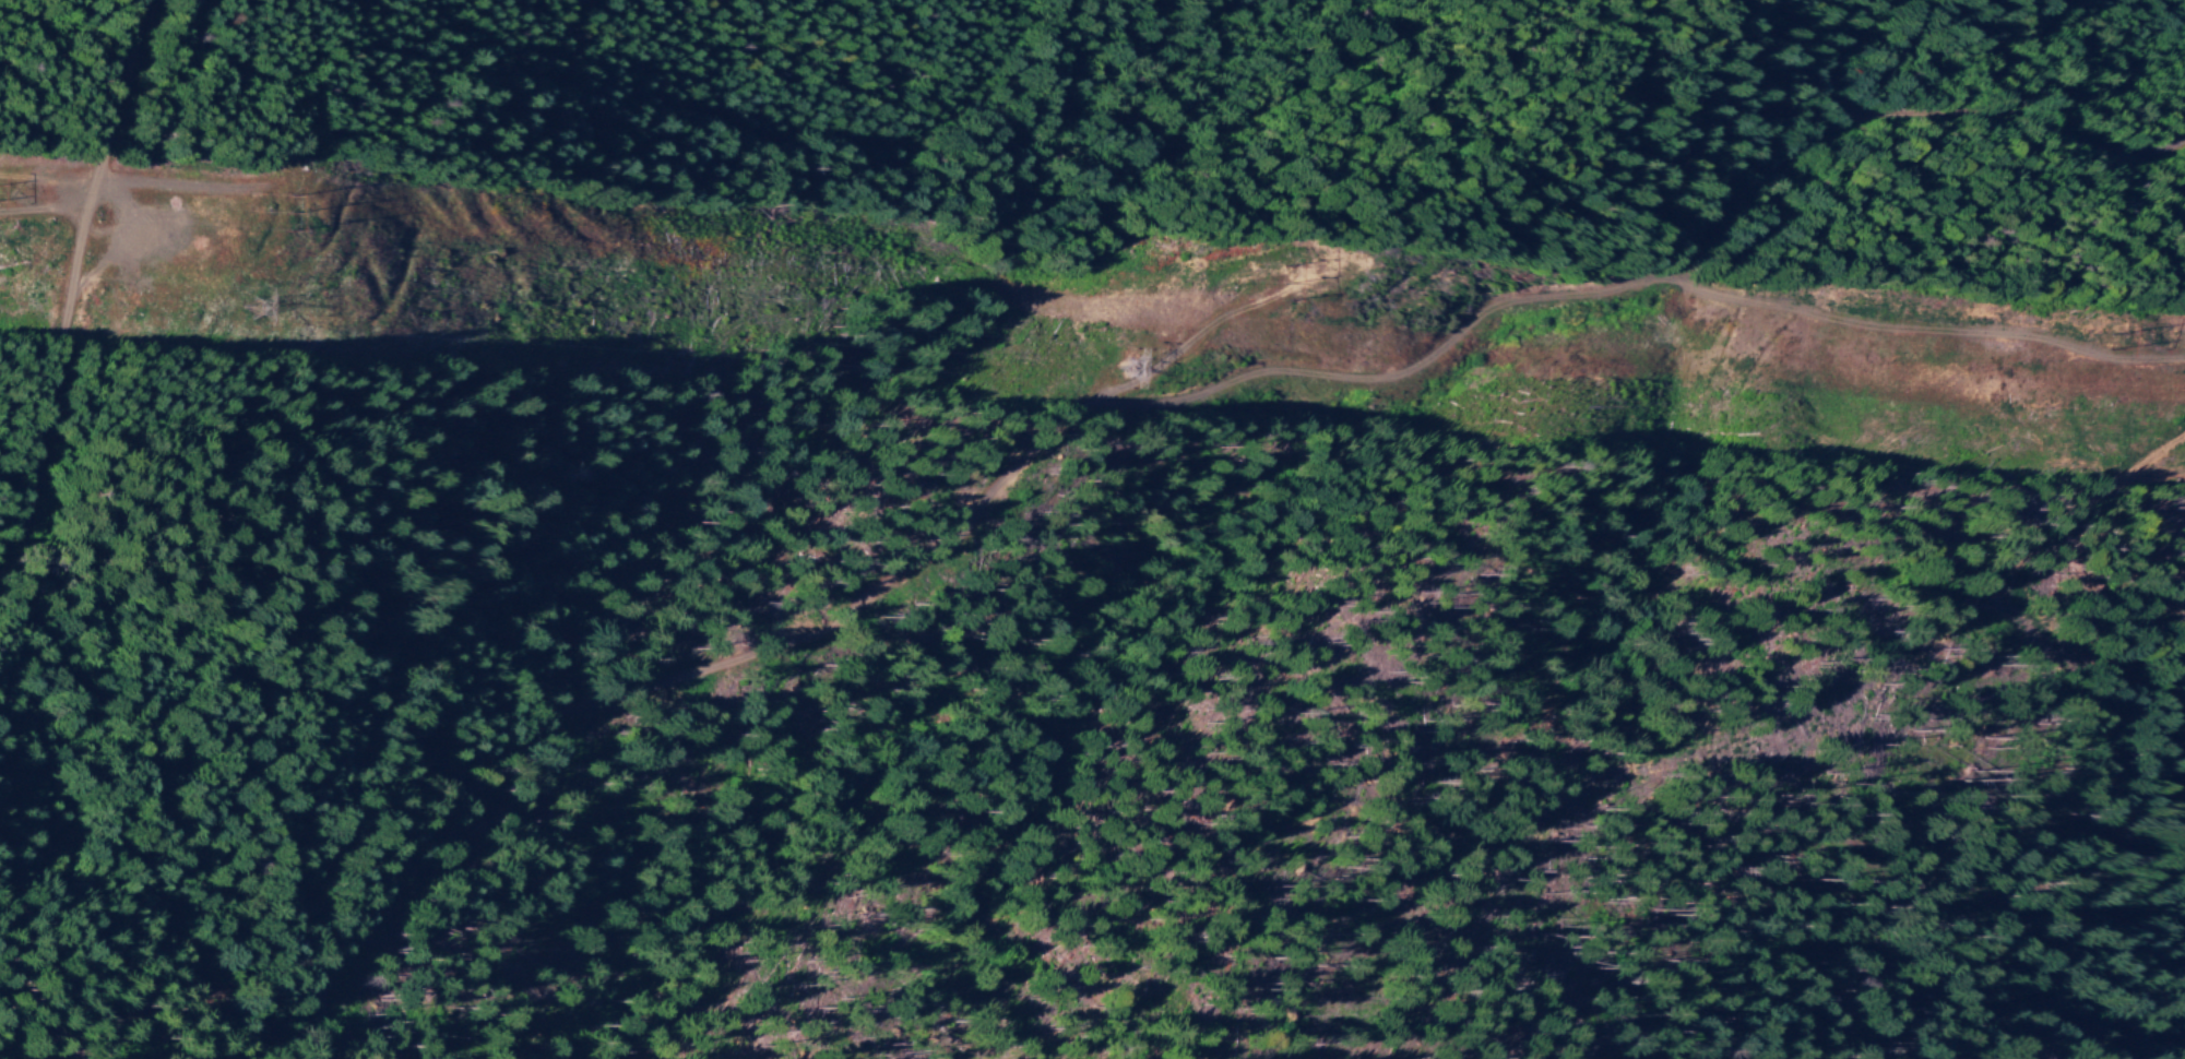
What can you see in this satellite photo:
road: (1903, 192)
power tower: (288, 215)
power tower: (1290, 285)
road: (72, 299)
power tower: (2118, 343)

